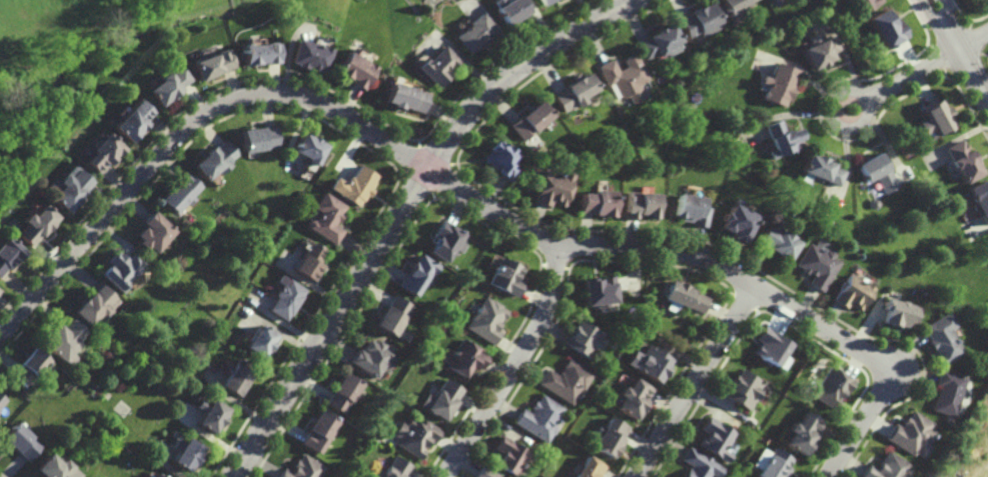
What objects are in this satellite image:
building: (542, 0)
building: (868, 3)
building: (736, 4)
building: (512, 8)
road: (947, 13)
road: (935, 14)
building: (702, 18)
building: (890, 26)
building: (476, 30)
building: (660, 39)
road: (974, 40)
building: (821, 48)
building: (261, 52)
building: (311, 54)
building: (214, 62)
road: (968, 62)
building: (438, 63)
building: (354, 67)
building: (625, 73)
road: (913, 74)
building: (780, 83)
building: (169, 84)
building: (578, 91)
building: (405, 95)
road: (865, 100)
building: (940, 117)
building: (134, 119)
building: (533, 119)
building: (262, 137)
building: (785, 138)
building: (310, 148)
building: (104, 152)
building: (218, 159)
building: (503, 159)
building: (964, 160)
building: (824, 169)
building: (880, 171)
building: (357, 185)
building: (555, 187)
building: (71, 189)
road: (463, 191)
building: (183, 193)
building: (980, 198)
building: (600, 202)
building: (875, 203)
building: (641, 204)
road: (403, 208)
building: (692, 209)
building: (326, 218)
building: (739, 223)
building: (37, 225)
building: (156, 233)
building: (447, 240)
building: (779, 241)
building: (9, 253)
building: (309, 261)
building: (820, 265)
building: (123, 270)
building: (417, 275)
building: (506, 277)
building: (602, 291)
building: (855, 293)
building: (686, 296)
building: (289, 298)
building: (98, 306)
building: (901, 313)
building: (393, 316)
building: (487, 321)
building: (945, 338)
building: (584, 340)
building: (67, 342)
building: (264, 342)
building: (772, 346)
building: (370, 359)
building: (466, 359)
building: (651, 364)
road: (515, 365)
building: (33, 368)
building: (239, 380)
building: (567, 382)
road: (697, 382)
building: (830, 388)
building: (743, 390)
building: (343, 394)
building: (949, 394)
building: (634, 400)
building: (2, 401)
building: (441, 402)
building: (215, 418)
building: (540, 419)
building: (321, 433)
building: (913, 434)
building: (804, 435)
building: (415, 438)
building: (611, 438)
building: (716, 439)
building: (22, 443)
building: (510, 457)
building: (190, 458)
building: (700, 465)
building: (776, 465)
building: (307, 468)
building: (889, 468)
building: (58, 469)
building: (394, 469)
building: (588, 469)
building: (485, 473)
building: (159, 476)

